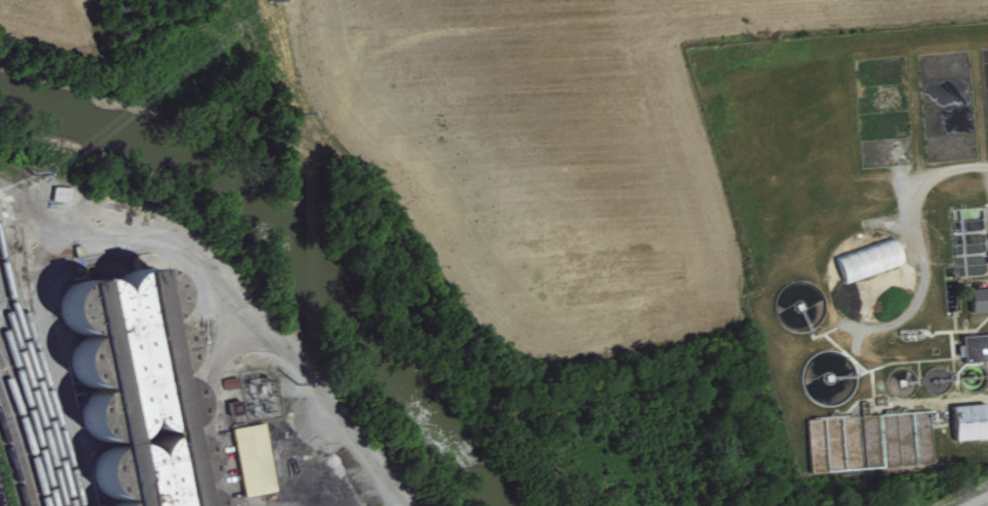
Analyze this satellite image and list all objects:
river: (288, 256)
building: (868, 257)
building: (978, 296)
building: (973, 344)
building: (229, 380)
building: (969, 418)
railway: (40, 424)
building: (254, 456)

